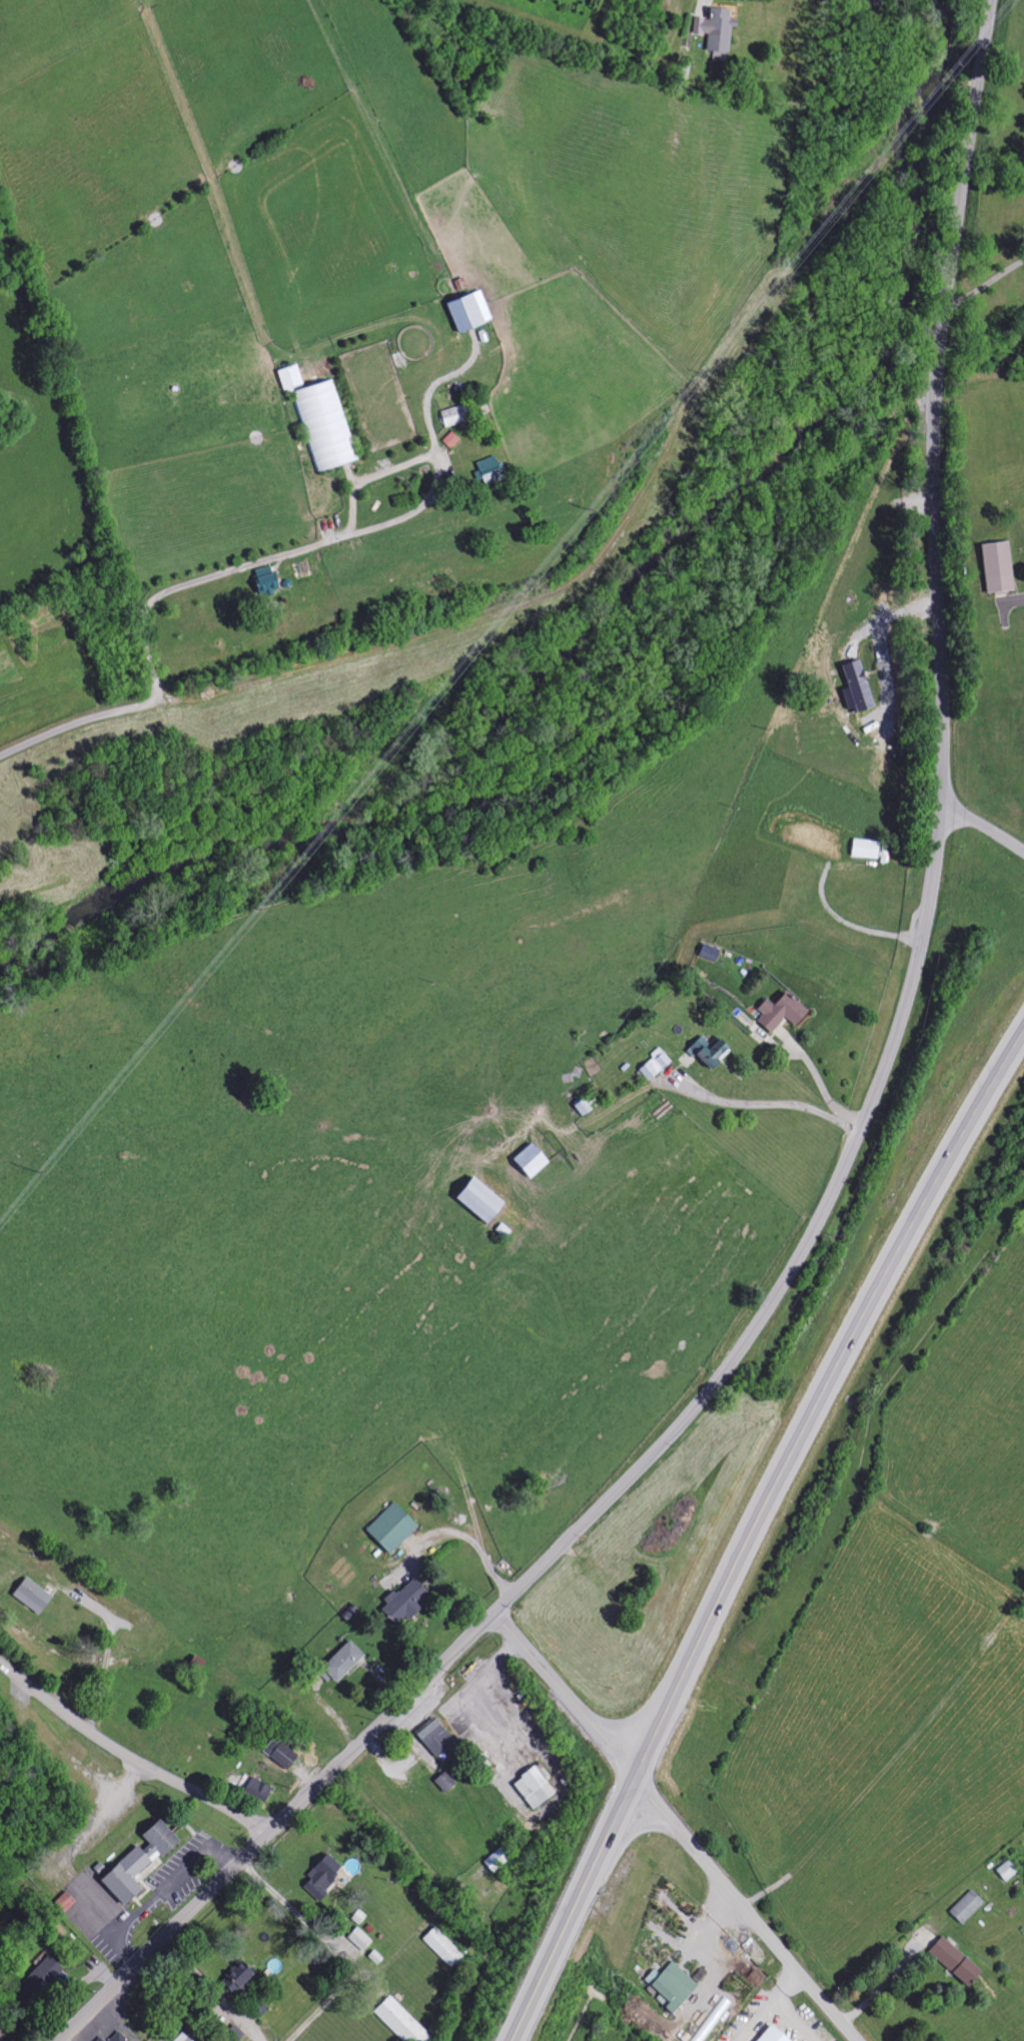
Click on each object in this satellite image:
building: (714, 31)
road: (985, 280)
building: (466, 310)
building: (288, 377)
building: (451, 416)
building: (324, 425)
building: (487, 470)
road: (326, 542)
building: (995, 567)
building: (262, 581)
road: (489, 620)
building: (856, 686)
road: (75, 724)
road: (981, 826)
building: (863, 849)
road: (931, 875)
road: (843, 927)
building: (778, 1012)
building: (706, 1052)
building: (652, 1065)
road: (772, 1105)
building: (579, 1107)
building: (528, 1161)
building: (476, 1200)
building: (389, 1528)
road: (753, 1530)
building: (30, 1595)
building: (403, 1601)
road: (105, 1653)
building: (340, 1662)
road: (382, 1725)
building: (433, 1737)
building: (282, 1755)
road: (127, 1757)
building: (443, 1781)
building: (531, 1787)
building: (256, 1789)
road: (676, 1827)
road: (222, 1857)
building: (135, 1861)
road: (183, 1871)
building: (1005, 1871)
building: (320, 1876)
building: (63, 1902)
building: (964, 1907)
road: (123, 1926)
road: (164, 1933)
building: (357, 1941)
building: (441, 1947)
building: (952, 1961)
building: (39, 1976)
building: (235, 1978)
road: (886, 1979)
road: (789, 1987)
road: (205, 1991)
road: (117, 2018)
road: (757, 2018)
road: (796, 2019)
building: (399, 2021)
building: (233, 2033)
building: (0, 2034)
building: (771, 2035)
building: (117, 2037)
building: (180, 2038)
building: (99, 2039)

